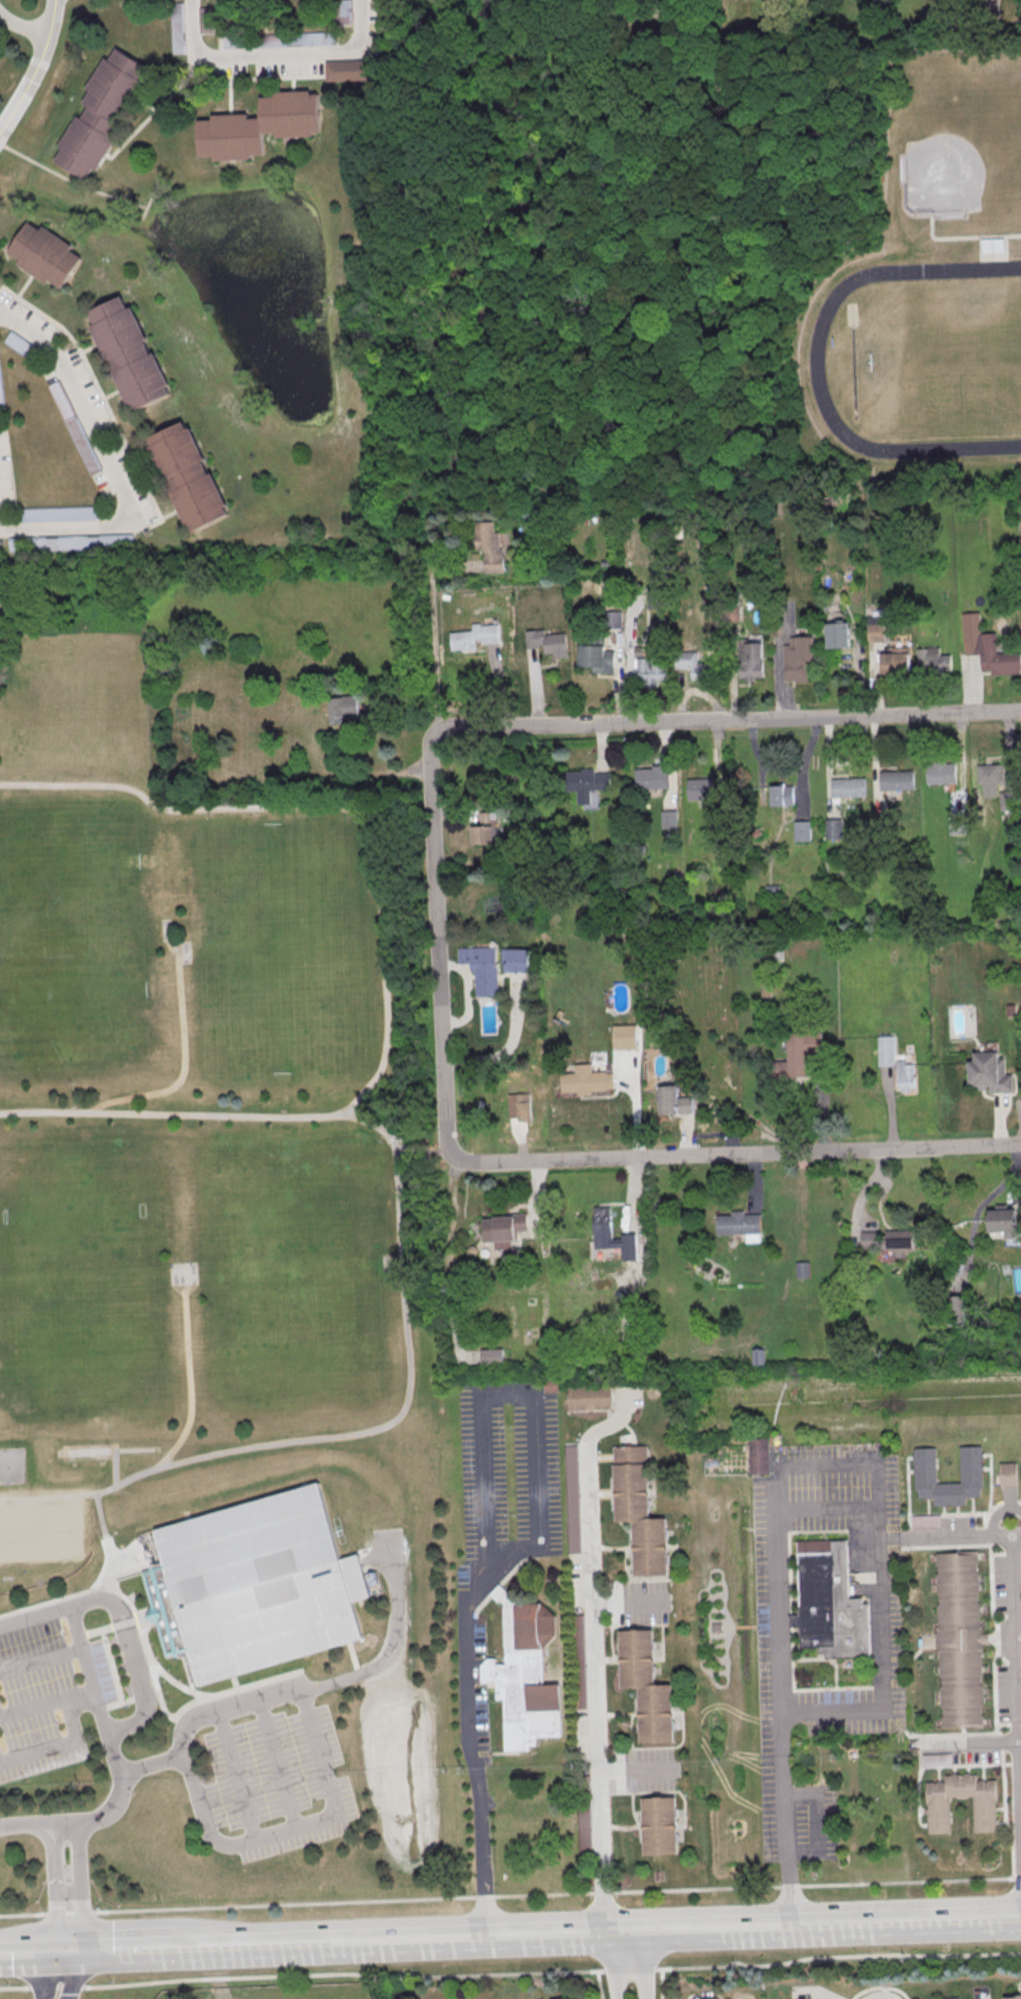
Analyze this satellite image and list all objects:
building: (343, 12)
building: (206, 19)
road: (22, 26)
building: (178, 27)
building: (279, 39)
road: (276, 55)
road: (35, 68)
building: (348, 69)
building: (106, 113)
building: (259, 125)
park: (961, 150)
road: (657, 238)
road: (963, 238)
stadium: (994, 247)
building: (50, 255)
building: (20, 344)
building: (126, 352)
park: (945, 357)
park: (922, 360)
road: (452, 409)
road: (404, 413)
building: (75, 427)
road: (672, 454)
road: (114, 470)
building: (186, 474)
building: (59, 513)
building: (71, 542)
building: (490, 545)
building: (654, 596)
building: (615, 619)
building: (873, 627)
building: (835, 634)
building: (471, 636)
road: (432, 639)
building: (545, 642)
building: (985, 647)
building: (593, 653)
road: (10, 655)
building: (795, 657)
building: (748, 659)
building: (893, 660)
building: (933, 660)
building: (651, 661)
building: (690, 664)
road: (497, 684)
road: (534, 686)
building: (342, 708)
road: (750, 718)
road: (600, 747)
road: (715, 762)
road: (373, 771)
building: (938, 772)
building: (986, 773)
building: (650, 778)
building: (893, 779)
building: (584, 782)
building: (845, 786)
building: (698, 789)
building: (779, 795)
building: (1005, 800)
road: (336, 807)
building: (716, 815)
building: (666, 819)
building: (879, 823)
building: (956, 823)
building: (830, 828)
building: (799, 829)
building: (483, 834)
park: (279, 885)
road: (408, 903)
road: (436, 921)
stadium: (167, 932)
park: (72, 939)
stadium: (389, 941)
stadium: (186, 950)
building: (517, 960)
building: (479, 968)
park: (286, 1007)
building: (621, 1036)
building: (883, 1050)
building: (795, 1053)
road: (184, 1056)
building: (987, 1072)
building: (902, 1075)
building: (583, 1080)
road: (632, 1101)
building: (670, 1101)
building: (519, 1106)
road: (887, 1106)
road: (174, 1114)
road: (997, 1119)
road: (684, 1134)
road: (422, 1150)
road: (734, 1153)
road: (973, 1214)
park: (73, 1219)
building: (602, 1222)
building: (999, 1222)
park: (287, 1223)
building: (735, 1223)
building: (501, 1228)
building: (869, 1239)
building: (899, 1242)
building: (637, 1257)
stadium: (388, 1263)
building: (951, 1308)
park: (213, 1317)
park: (53, 1343)
park: (294, 1346)
building: (758, 1355)
building: (492, 1356)
road: (190, 1370)
building: (551, 1387)
building: (590, 1397)
road: (364, 1433)
building: (759, 1457)
building: (970, 1464)
road: (116, 1465)
park: (12, 1466)
building: (1008, 1473)
building: (571, 1477)
road: (776, 1478)
road: (825, 1507)
building: (639, 1510)
building: (925, 1521)
park: (40, 1529)
road: (949, 1536)
road: (483, 1545)
road: (107, 1548)
road: (135, 1560)
building: (255, 1587)
stadium: (255, 1587)
building: (830, 1603)
road: (49, 1614)
road: (396, 1634)
building: (959, 1639)
road: (41, 1660)
road: (354, 1661)
road: (148, 1663)
road: (1016, 1664)
road: (88, 1670)
building: (525, 1676)
road: (176, 1682)
building: (646, 1684)
road: (595, 1686)
parking lot: (56, 1691)
road: (144, 1698)
road: (47, 1704)
road: (233, 1706)
road: (1020, 1740)
road: (67, 1742)
road: (968, 1742)
road: (278, 1765)
road: (148, 1766)
parking lot: (265, 1771)
road: (237, 1776)
building: (984, 1813)
road: (818, 1822)
road: (69, 1823)
building: (659, 1825)
road: (297, 1829)
road: (79, 1887)
road: (66, 1895)
road: (510, 1895)
road: (53, 1909)
road: (814, 1923)
road: (409, 1944)
road: (199, 1952)
road: (65, 1953)
traffic signals: (79, 1953)
road: (124, 1953)
road: (179, 1953)
traffic signals: (51, 1954)
road: (25, 1955)
road: (642, 1964)
road: (618, 1968)
road: (510, 1972)
road: (72, 1975)
road: (659, 1983)
road: (598, 1985)
road: (877, 1987)
park: (253, 1994)
building: (1012, 1997)
building: (710, 1998)
road: (878, 1998)
building: (951, 1998)

